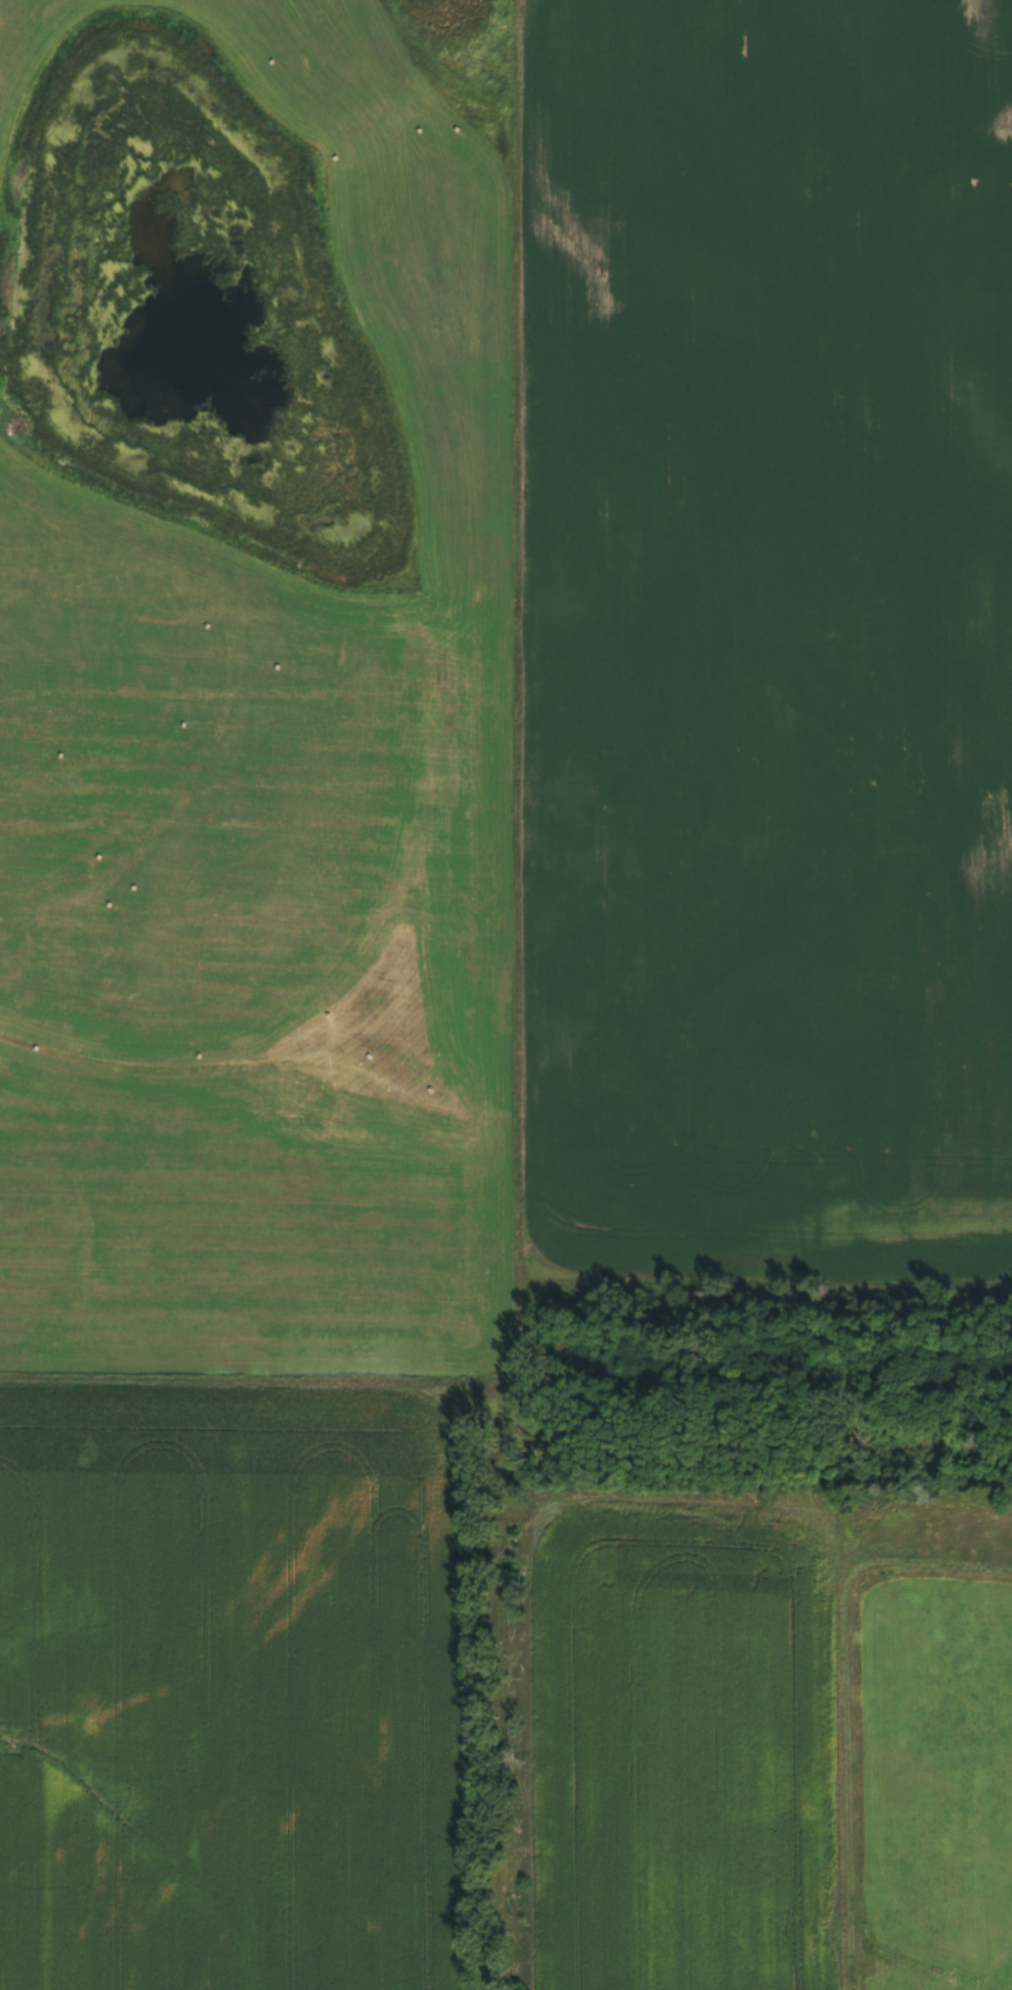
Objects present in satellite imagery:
road: (846, 1699)

